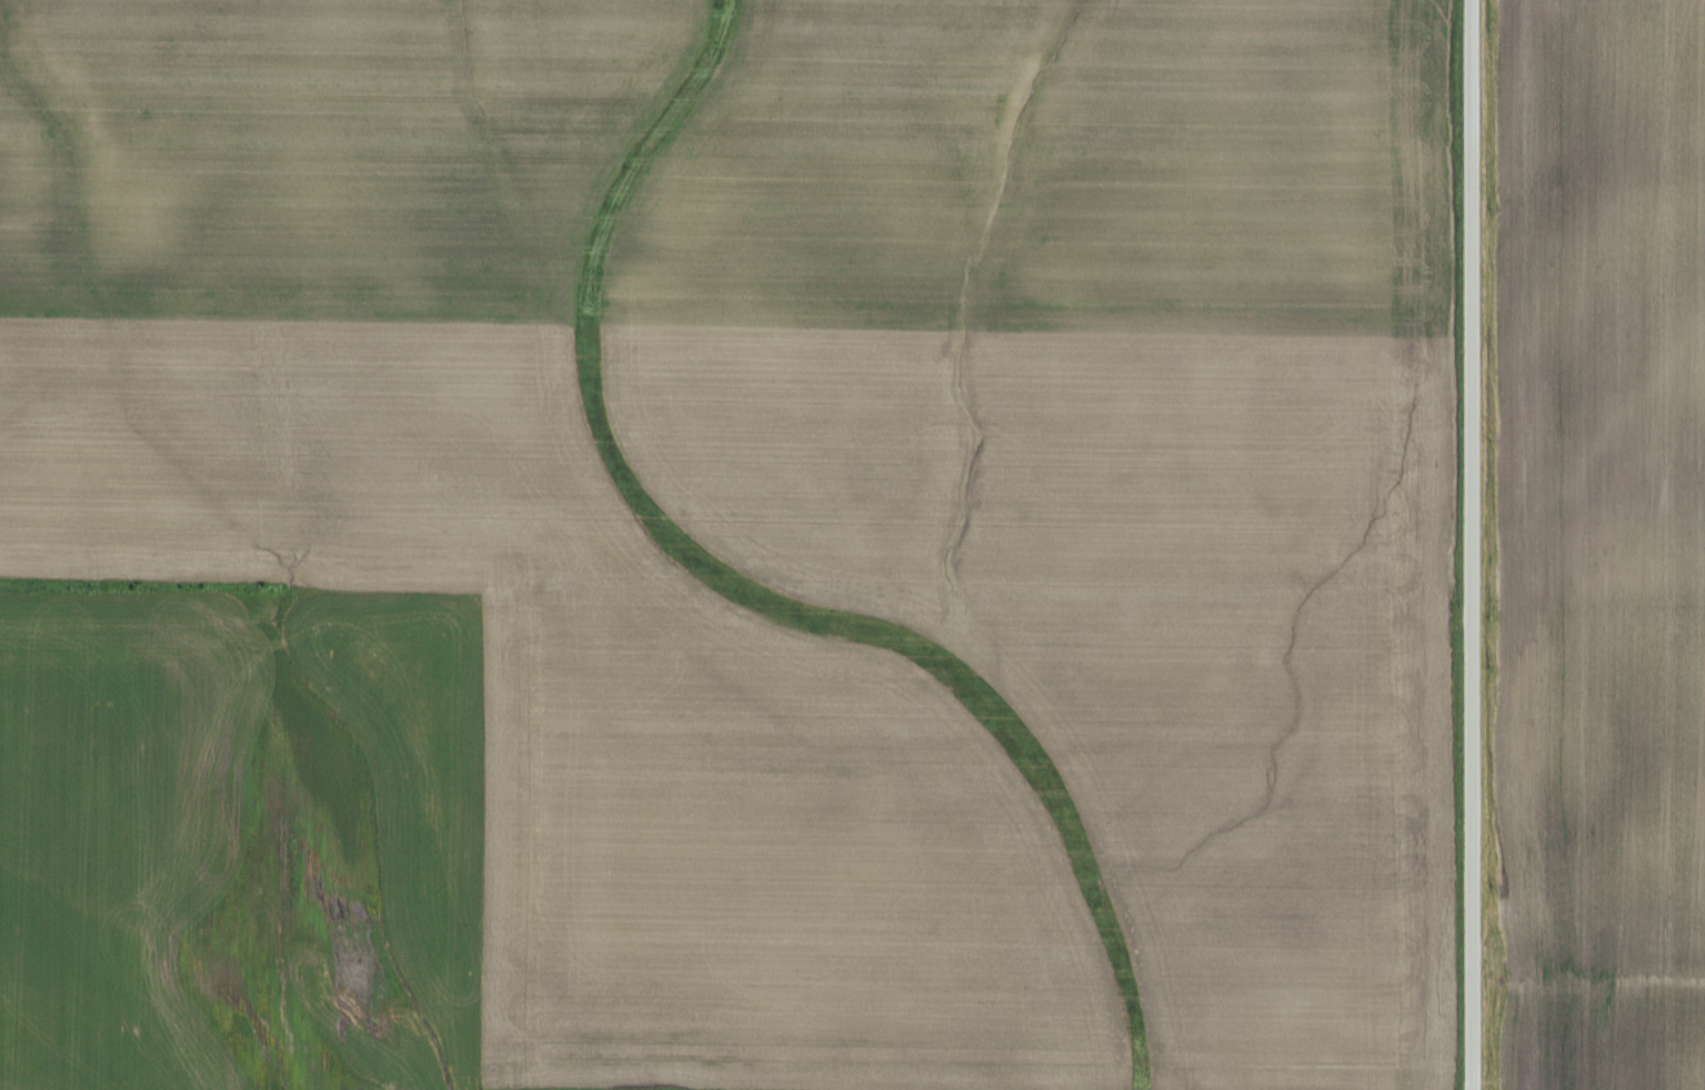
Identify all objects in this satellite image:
road: (1468, 545)

